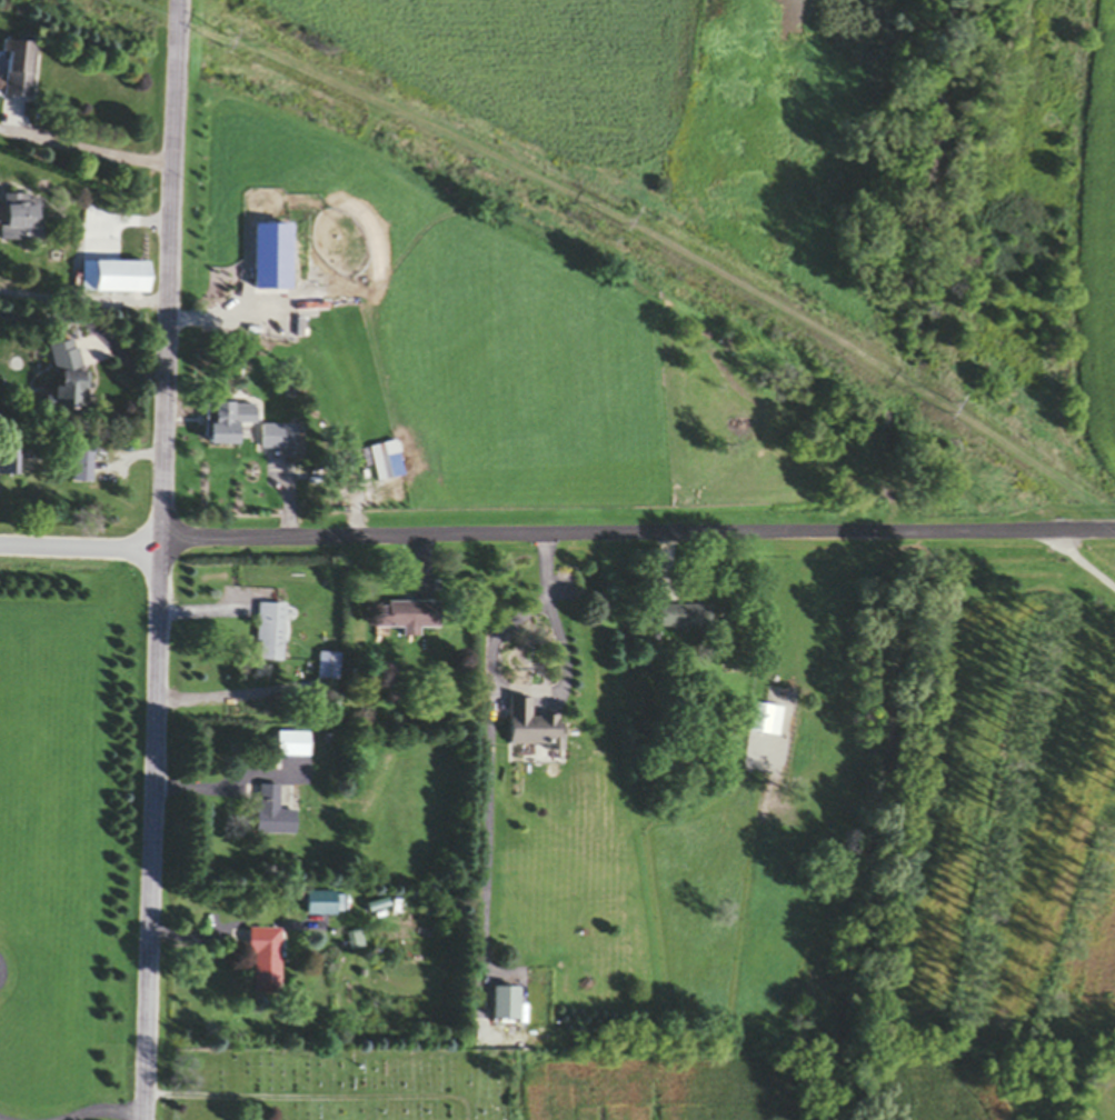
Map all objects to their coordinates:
power tower: (261, 63)
building: (20, 67)
road: (88, 154)
building: (22, 220)
power tower: (617, 220)
road: (171, 268)
building: (117, 280)
building: (68, 379)
power tower: (950, 412)
building: (231, 426)
building: (281, 440)
building: (8, 463)
building: (82, 469)
road: (638, 534)
road: (81, 536)
road: (1077, 566)
building: (404, 618)
building: (683, 619)
building: (271, 634)
building: (328, 669)
road: (551, 693)
building: (529, 728)
building: (292, 747)
road: (223, 783)
building: (272, 816)
road: (149, 828)
building: (321, 906)
building: (356, 941)
building: (266, 963)
building: (501, 1004)
road: (100, 1112)

